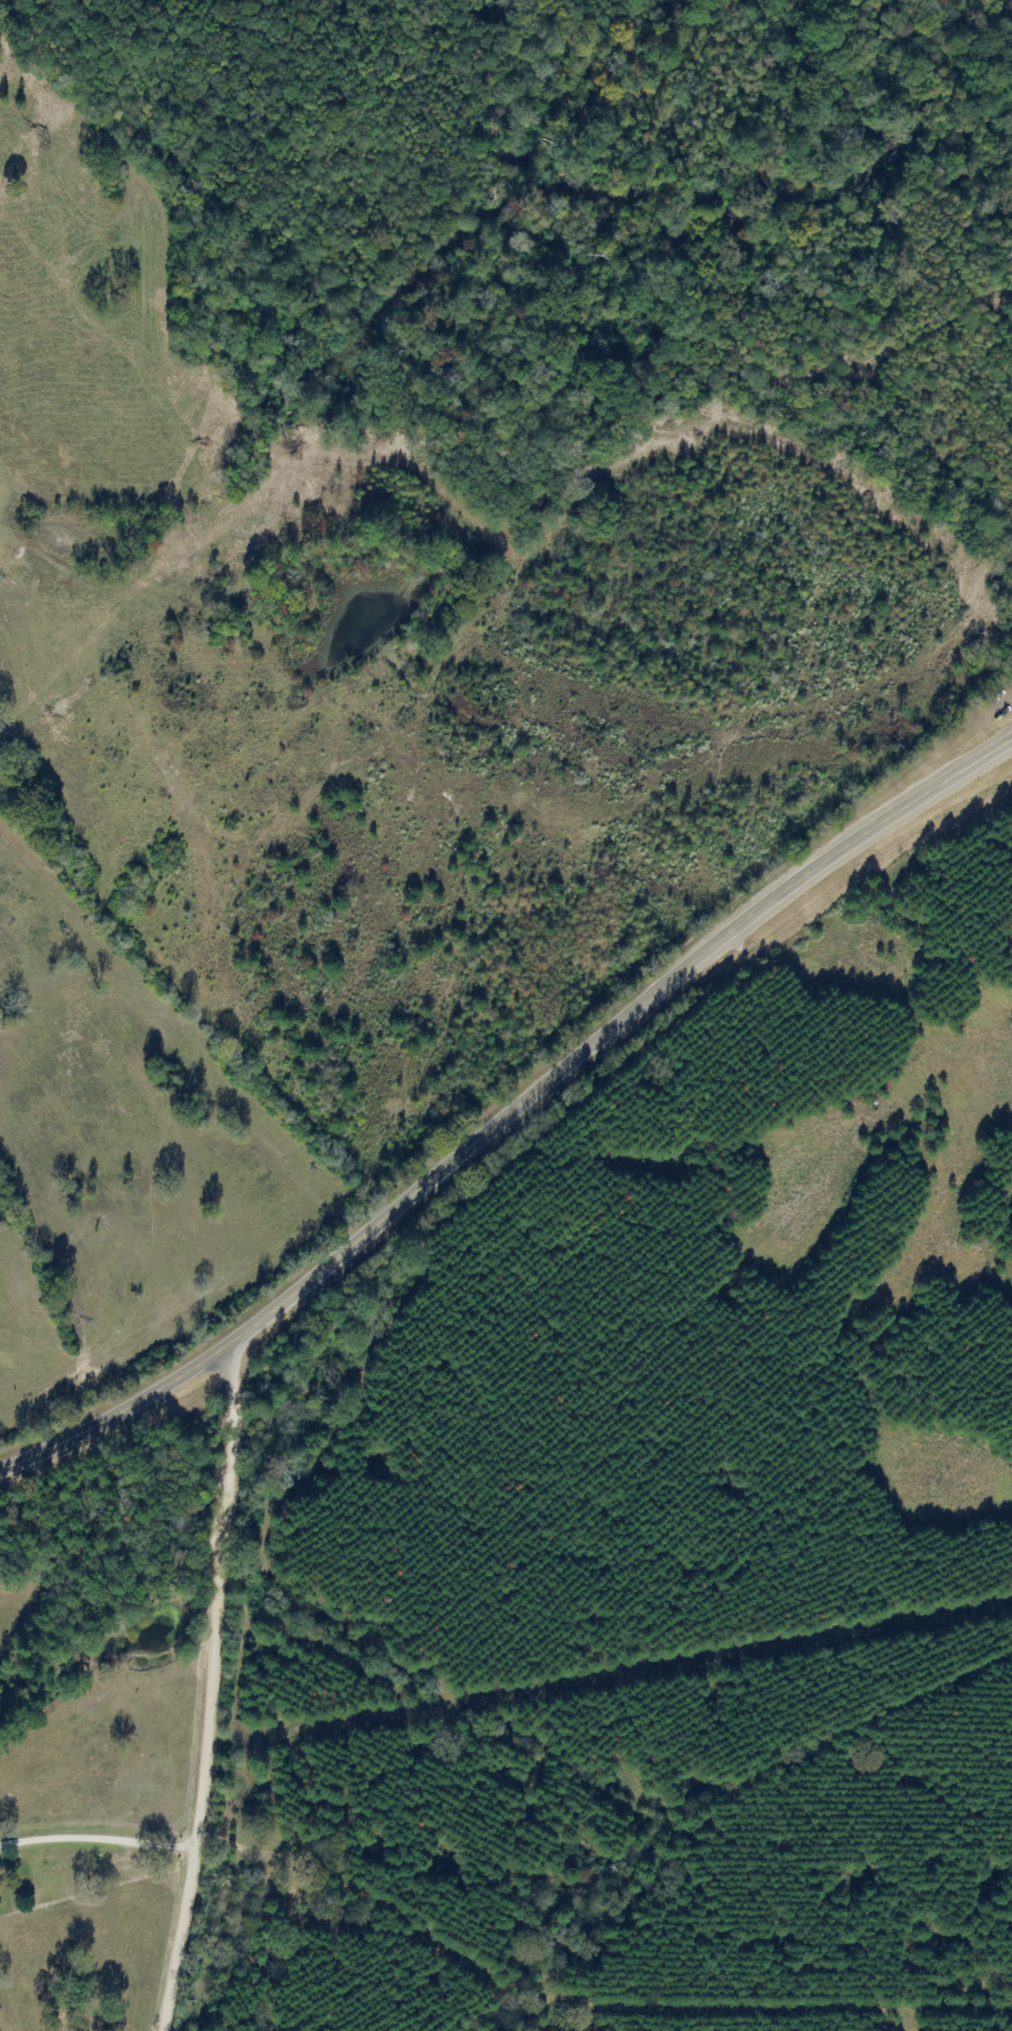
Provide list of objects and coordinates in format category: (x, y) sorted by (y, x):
road: (511, 1115)
road: (200, 1693)
building: (0, 1900)

